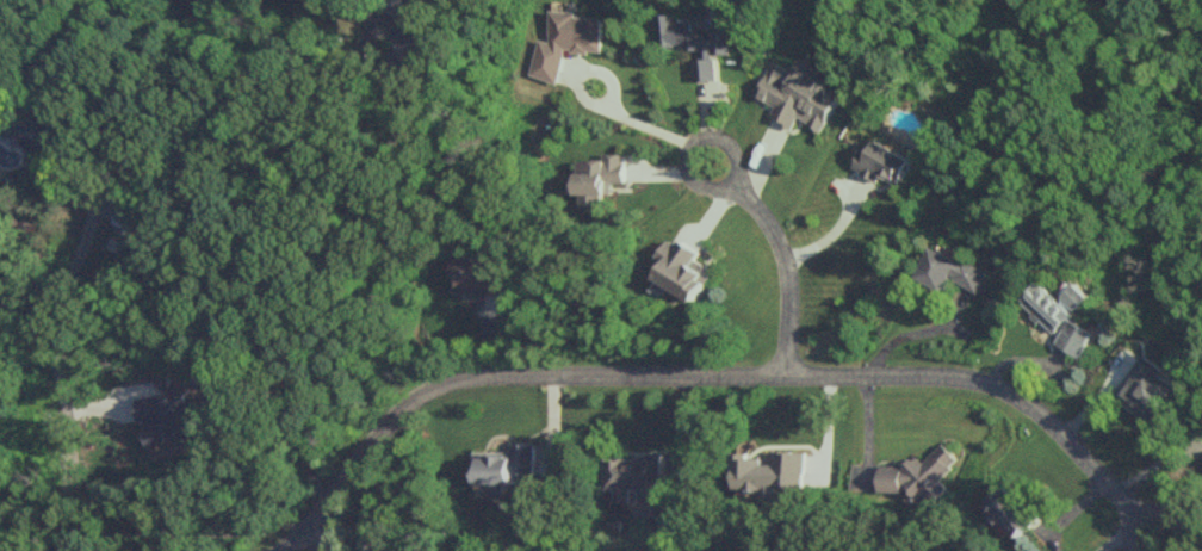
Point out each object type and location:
building: (397, 7)
building: (568, 42)
building: (696, 42)
building: (409, 60)
building: (799, 95)
road: (589, 99)
building: (41, 132)
building: (886, 163)
road: (675, 171)
building: (595, 179)
building: (124, 223)
road: (826, 231)
road: (298, 256)
building: (677, 268)
road: (772, 268)
building: (954, 272)
building: (477, 278)
building: (1066, 316)
road: (904, 333)
road: (51, 352)
road: (694, 374)
building: (1158, 391)
building: (506, 466)
road: (1154, 466)
building: (636, 477)
building: (916, 477)
road: (1151, 512)
building: (1017, 513)
road: (322, 534)

